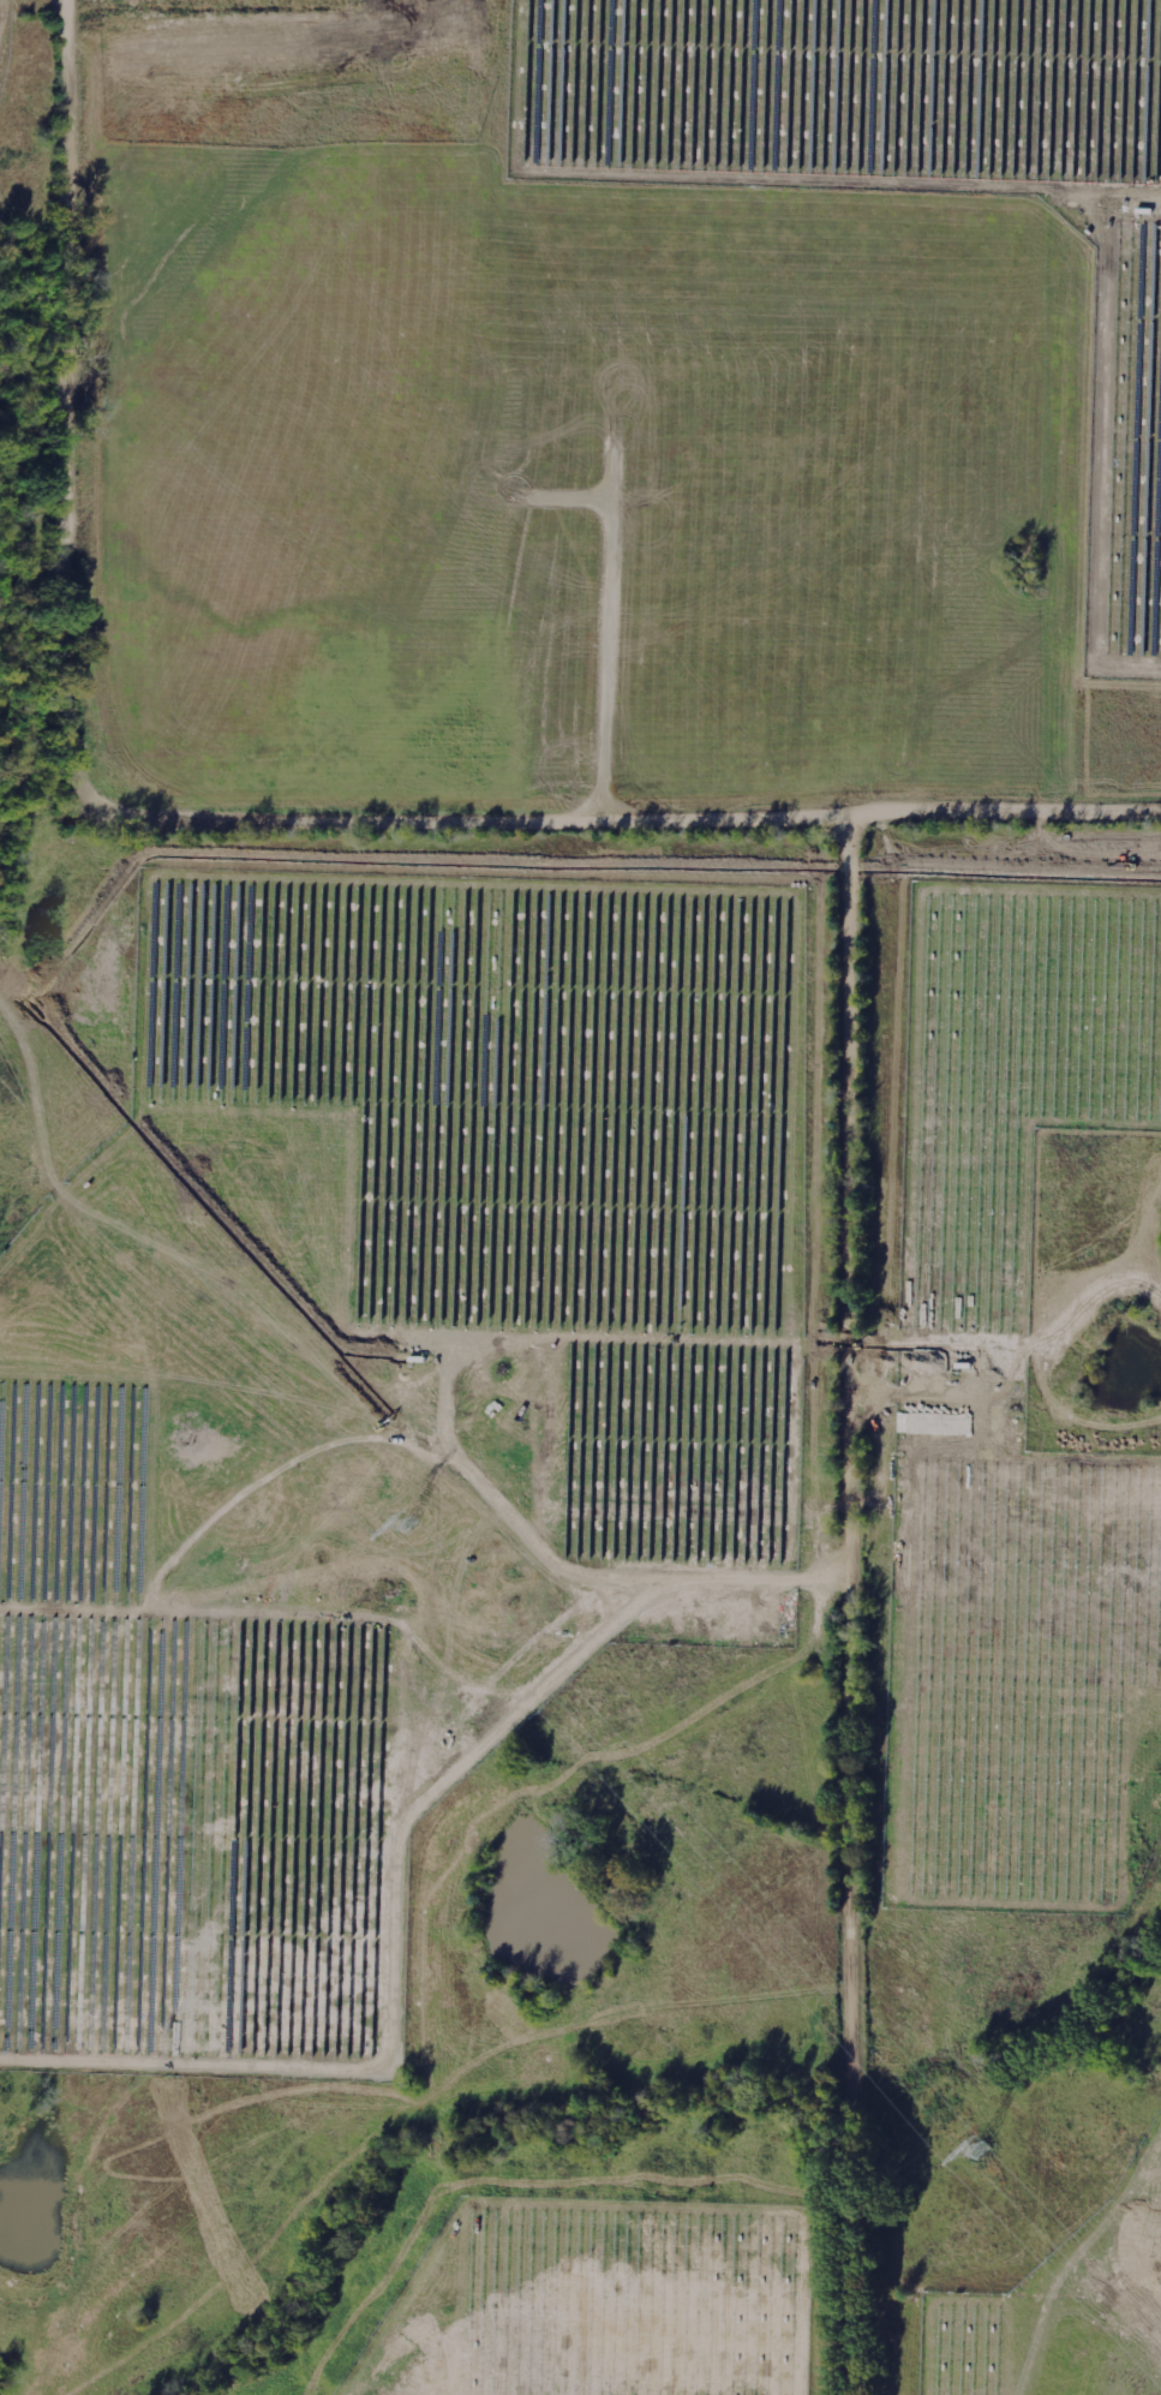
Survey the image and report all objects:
solar farm: (6, 35)
solar farm: (902, 169)
road: (103, 801)
solar farm: (373, 1417)
solar farm: (1015, 1423)
road: (862, 1462)
power tower: (415, 1523)
power tower: (981, 2150)
solar farm: (602, 2301)
solar farm: (1064, 2310)

